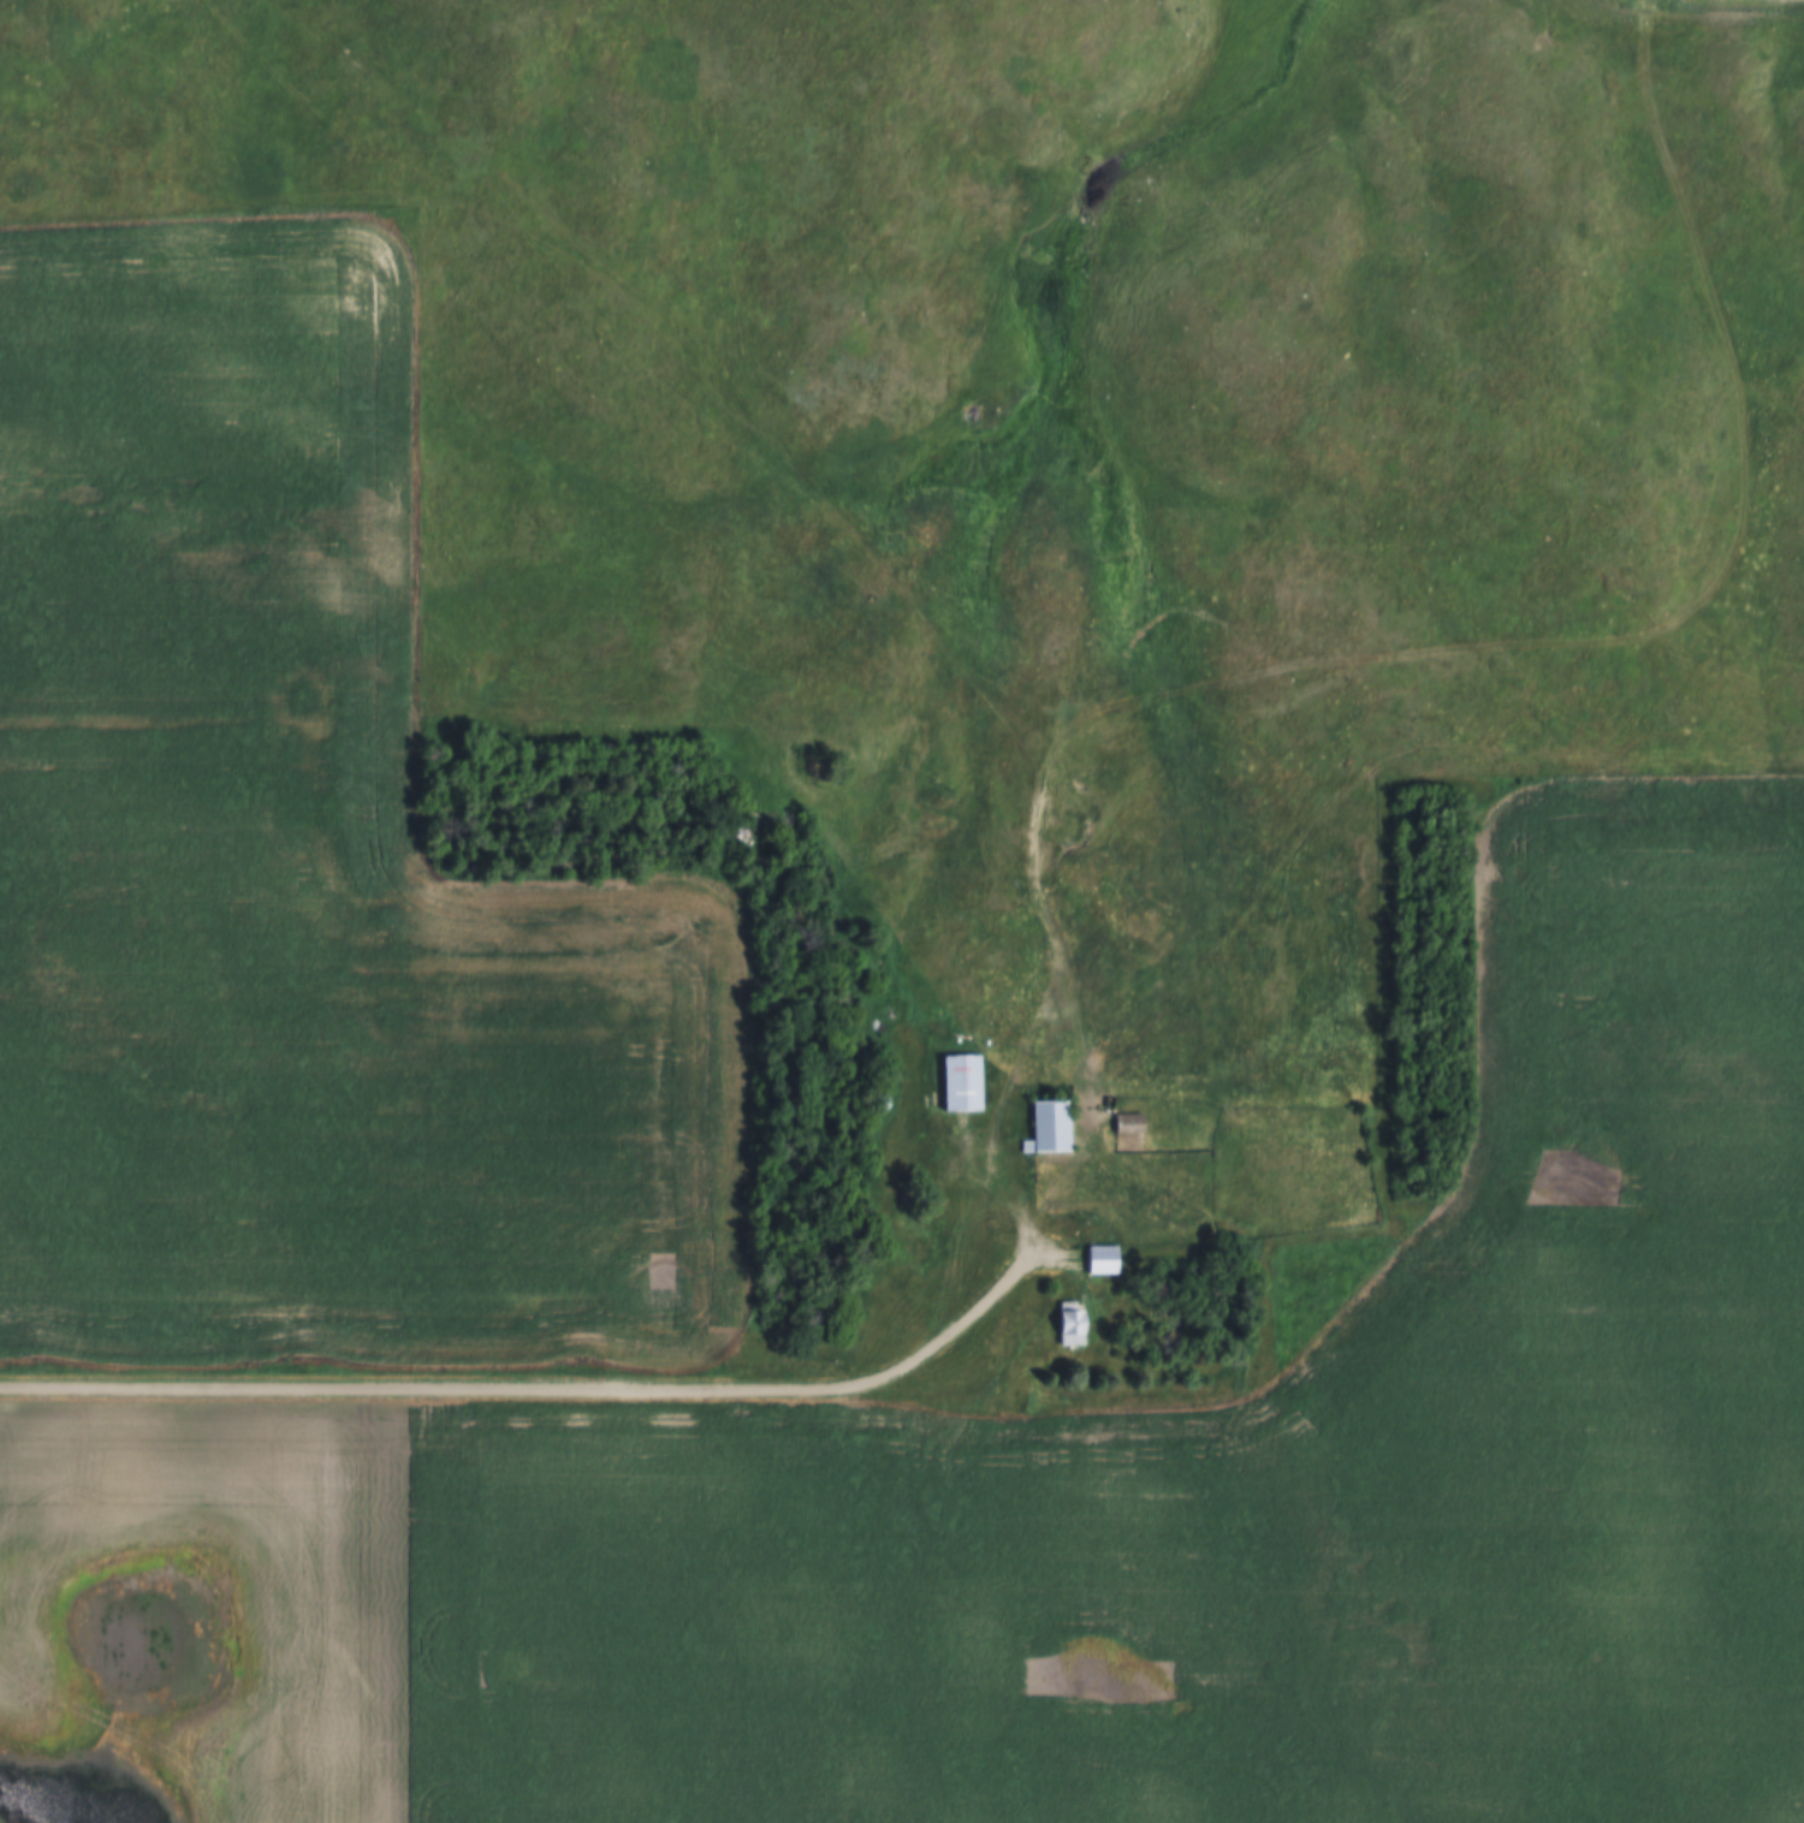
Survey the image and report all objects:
building: (960, 1081)
building: (1128, 1123)
building: (1048, 1127)
building: (1100, 1259)
building: (1316, 1299)
building: (1070, 1324)
road: (541, 1389)

